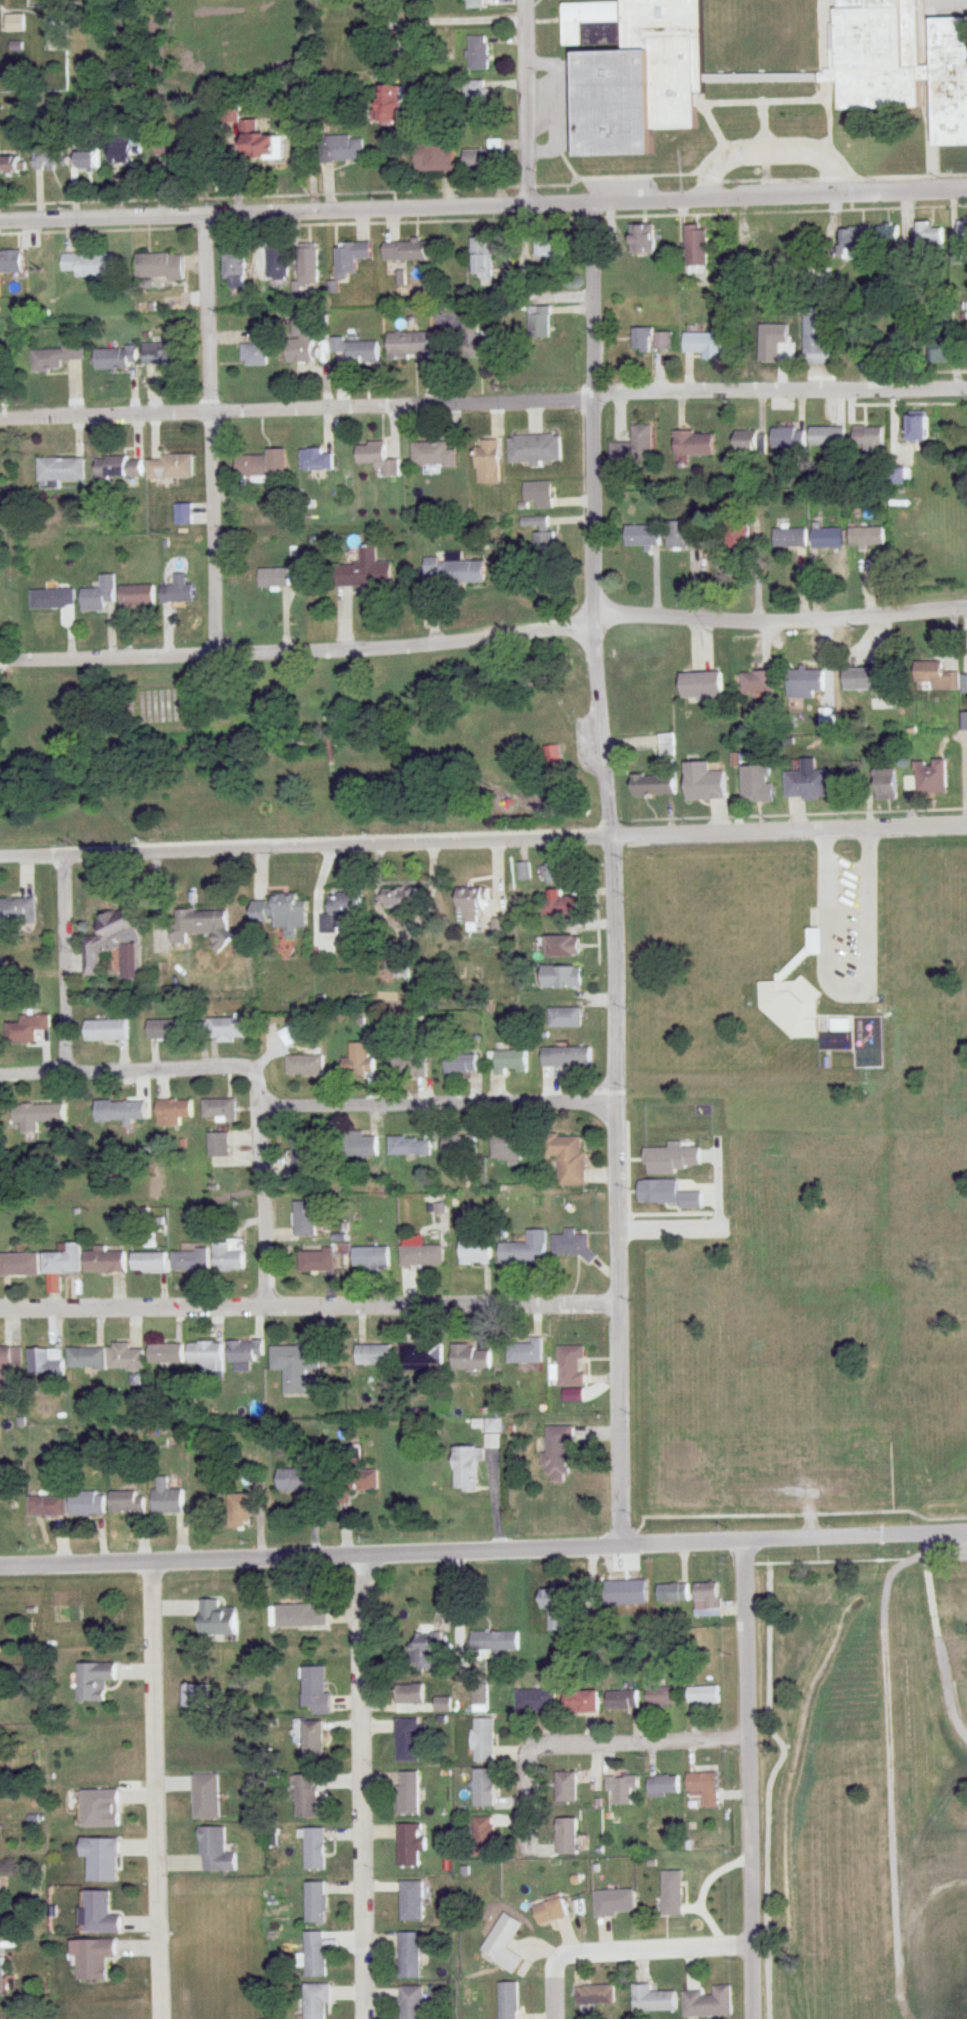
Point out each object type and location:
building: (472, 4)
building: (15, 23)
building: (477, 53)
building: (902, 62)
building: (631, 71)
building: (475, 98)
road: (527, 101)
building: (390, 106)
building: (261, 147)
building: (342, 149)
building: (125, 150)
building: (193, 150)
road: (773, 151)
building: (484, 157)
building: (434, 158)
building: (88, 160)
building: (11, 165)
road: (483, 204)
building: (961, 233)
building: (887, 234)
building: (929, 237)
building: (641, 239)
building: (852, 242)
building: (762, 246)
building: (548, 247)
building: (406, 250)
building: (696, 252)
building: (350, 257)
building: (482, 259)
building: (278, 261)
building: (12, 263)
building: (308, 264)
building: (89, 265)
building: (158, 267)
building: (234, 268)
building: (508, 278)
building: (539, 322)
building: (817, 336)
building: (463, 338)
building: (652, 340)
building: (703, 345)
building: (299, 347)
building: (410, 347)
building: (256, 348)
building: (847, 348)
building: (356, 350)
building: (940, 352)
building: (57, 357)
building: (161, 357)
building: (115, 358)
road: (483, 405)
building: (916, 426)
road: (212, 434)
building: (827, 436)
building: (789, 438)
building: (868, 439)
building: (751, 442)
building: (694, 444)
building: (635, 446)
building: (535, 449)
building: (432, 455)
building: (376, 458)
building: (316, 460)
building: (488, 462)
building: (261, 464)
building: (119, 467)
building: (171, 467)
building: (61, 470)
building: (899, 476)
building: (538, 494)
building: (183, 514)
road: (592, 517)
building: (540, 534)
building: (736, 534)
building: (683, 535)
building: (642, 536)
building: (827, 537)
building: (790, 538)
building: (866, 538)
building: (364, 571)
building: (456, 571)
building: (274, 578)
building: (179, 592)
building: (99, 595)
building: (137, 595)
building: (52, 599)
road: (484, 635)
building: (936, 676)
building: (865, 679)
building: (757, 682)
building: (964, 683)
building: (805, 684)
building: (701, 686)
building: (882, 701)
park: (159, 705)
building: (826, 719)
building: (964, 721)
building: (667, 745)
park: (301, 748)
building: (553, 757)
building: (930, 777)
building: (850, 778)
building: (703, 783)
building: (883, 783)
building: (757, 785)
building: (805, 785)
building: (653, 786)
road: (483, 839)
building: (523, 872)
building: (554, 874)
building: (398, 898)
building: (560, 903)
building: (470, 907)
building: (17, 911)
building: (280, 914)
building: (341, 914)
building: (204, 926)
building: (115, 945)
building: (561, 946)
road: (67, 963)
building: (401, 966)
building: (560, 977)
building: (795, 996)
building: (565, 1017)
building: (841, 1024)
building: (27, 1029)
building: (106, 1030)
building: (165, 1030)
building: (224, 1030)
building: (291, 1035)
building: (566, 1057)
building: (508, 1062)
building: (460, 1063)
building: (305, 1066)
building: (358, 1066)
building: (410, 1066)
road: (148, 1068)
road: (440, 1104)
building: (219, 1109)
building: (174, 1111)
building: (121, 1113)
building: (34, 1117)
building: (219, 1144)
building: (410, 1146)
building: (363, 1147)
building: (461, 1147)
building: (510, 1147)
building: (303, 1152)
building: (568, 1159)
road: (617, 1191)
road: (265, 1206)
building: (305, 1218)
building: (572, 1244)
building: (526, 1249)
building: (475, 1252)
building: (422, 1255)
building: (228, 1256)
building: (375, 1258)
building: (191, 1259)
building: (63, 1261)
building: (316, 1261)
building: (105, 1262)
building: (148, 1262)
building: (21, 1264)
road: (309, 1306)
building: (525, 1352)
building: (166, 1354)
building: (245, 1355)
building: (205, 1356)
building: (374, 1356)
building: (124, 1357)
building: (422, 1357)
building: (86, 1358)
building: (471, 1358)
building: (9, 1360)
building: (45, 1362)
building: (571, 1366)
building: (293, 1368)
building: (493, 1425)
building: (559, 1453)
building: (466, 1467)
building: (368, 1479)
building: (298, 1480)
building: (167, 1498)
building: (127, 1503)
building: (88, 1504)
building: (49, 1506)
building: (240, 1510)
road: (483, 1552)
building: (674, 1593)
building: (630, 1598)
building: (707, 1599)
building: (951, 1605)
building: (553, 1607)
building: (217, 1619)
building: (495, 1641)
building: (425, 1650)
building: (94, 1681)
building: (316, 1689)
building: (965, 1692)
building: (410, 1695)
building: (480, 1695)
building: (702, 1695)
building: (197, 1696)
building: (662, 1698)
building: (622, 1700)
building: (535, 1701)
building: (579, 1702)
building: (408, 1740)
building: (484, 1740)
road: (645, 1740)
building: (313, 1743)
building: (701, 1782)
road: (749, 1782)
road: (362, 1786)
road: (527, 1786)
building: (663, 1786)
road: (763, 1786)
building: (484, 1788)
building: (566, 1788)
building: (621, 1789)
road: (154, 1790)
building: (409, 1793)
building: (206, 1796)
building: (307, 1796)
building: (101, 1809)
building: (484, 1837)
building: (566, 1837)
building: (410, 1844)
building: (315, 1849)
building: (215, 1851)
building: (101, 1859)
building: (0, 1884)
building: (672, 1893)
building: (412, 1901)
building: (316, 1902)
building: (614, 1902)
building: (549, 1910)
building: (100, 1913)
building: (503, 1943)
road: (624, 1949)
building: (316, 1954)
building: (410, 1955)
building: (94, 1958)
building: (1, 1975)
building: (595, 1995)
building: (317, 2000)
building: (508, 2000)
building: (652, 2000)
building: (412, 2002)
building: (707, 2003)

